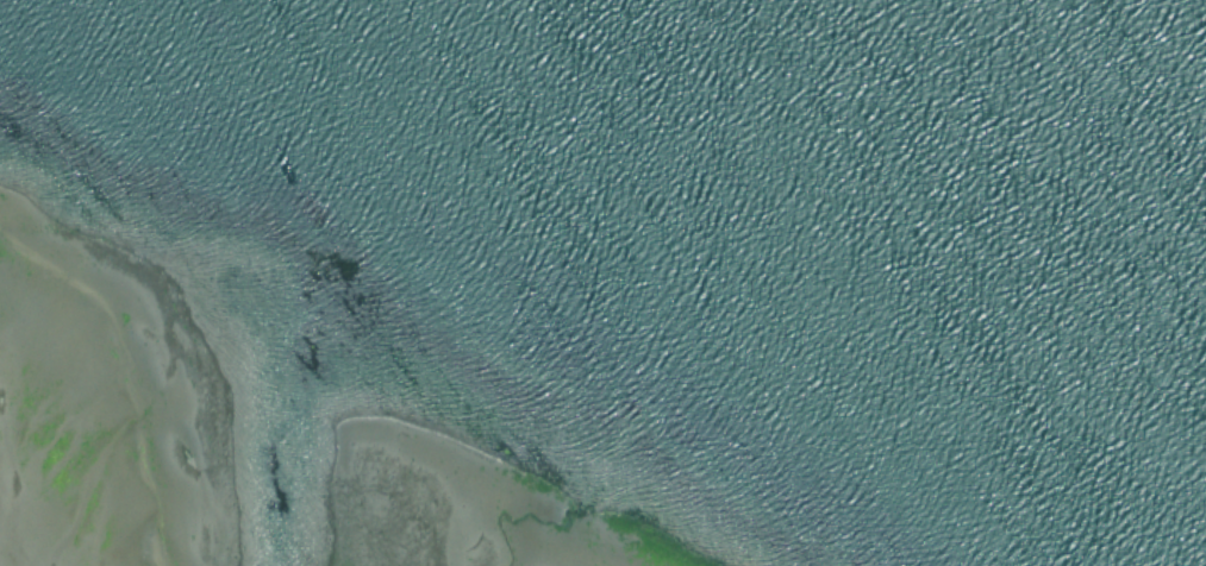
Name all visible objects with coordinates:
river: (1106, 61)

